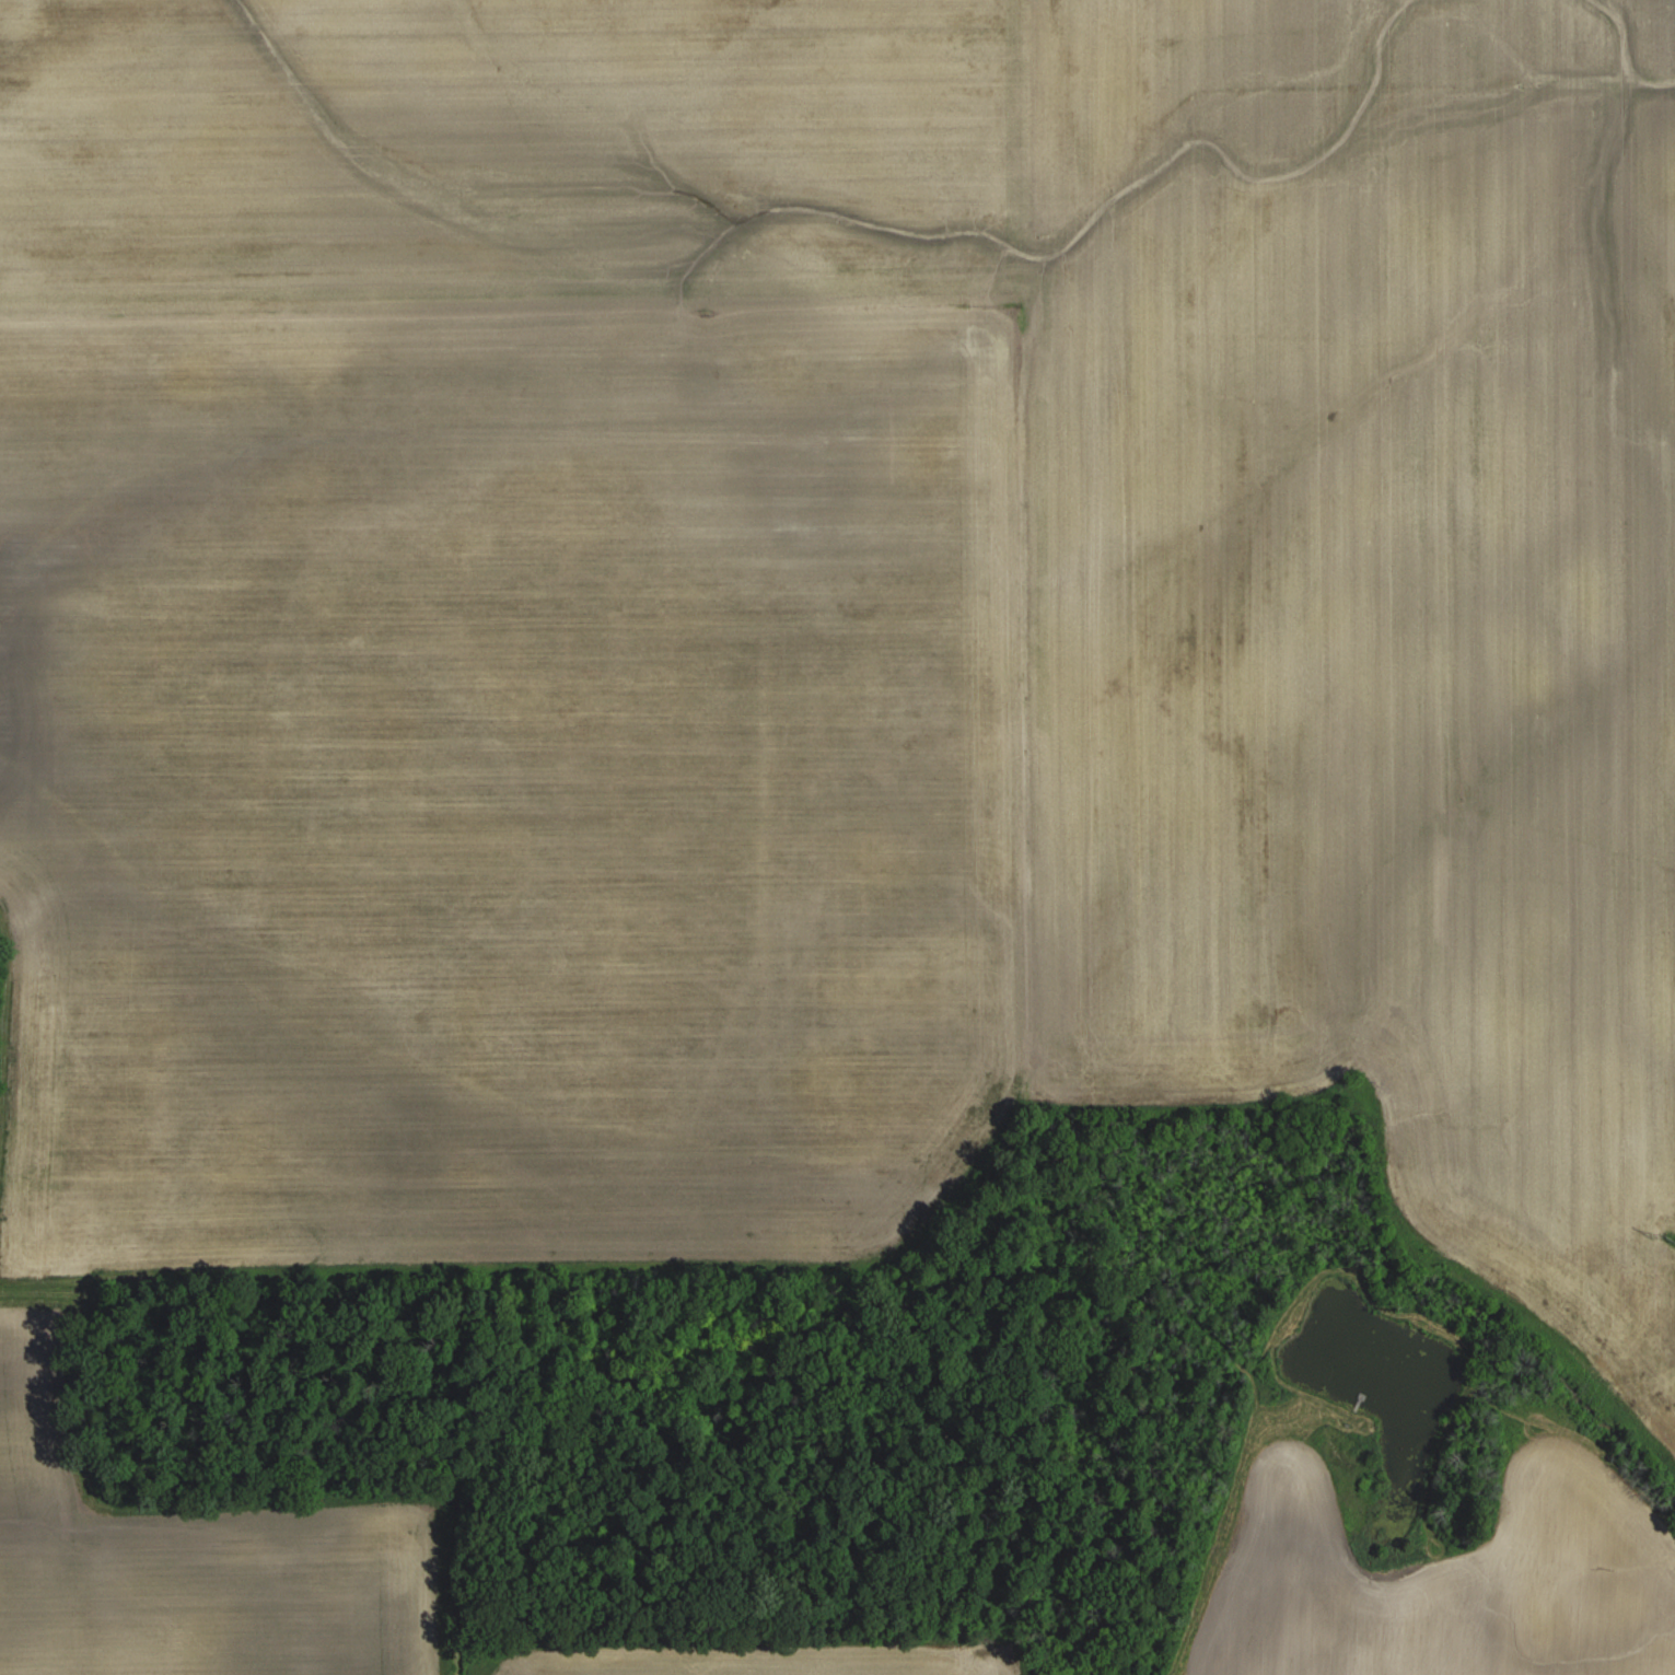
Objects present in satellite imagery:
power tower: (1674, 1237)

